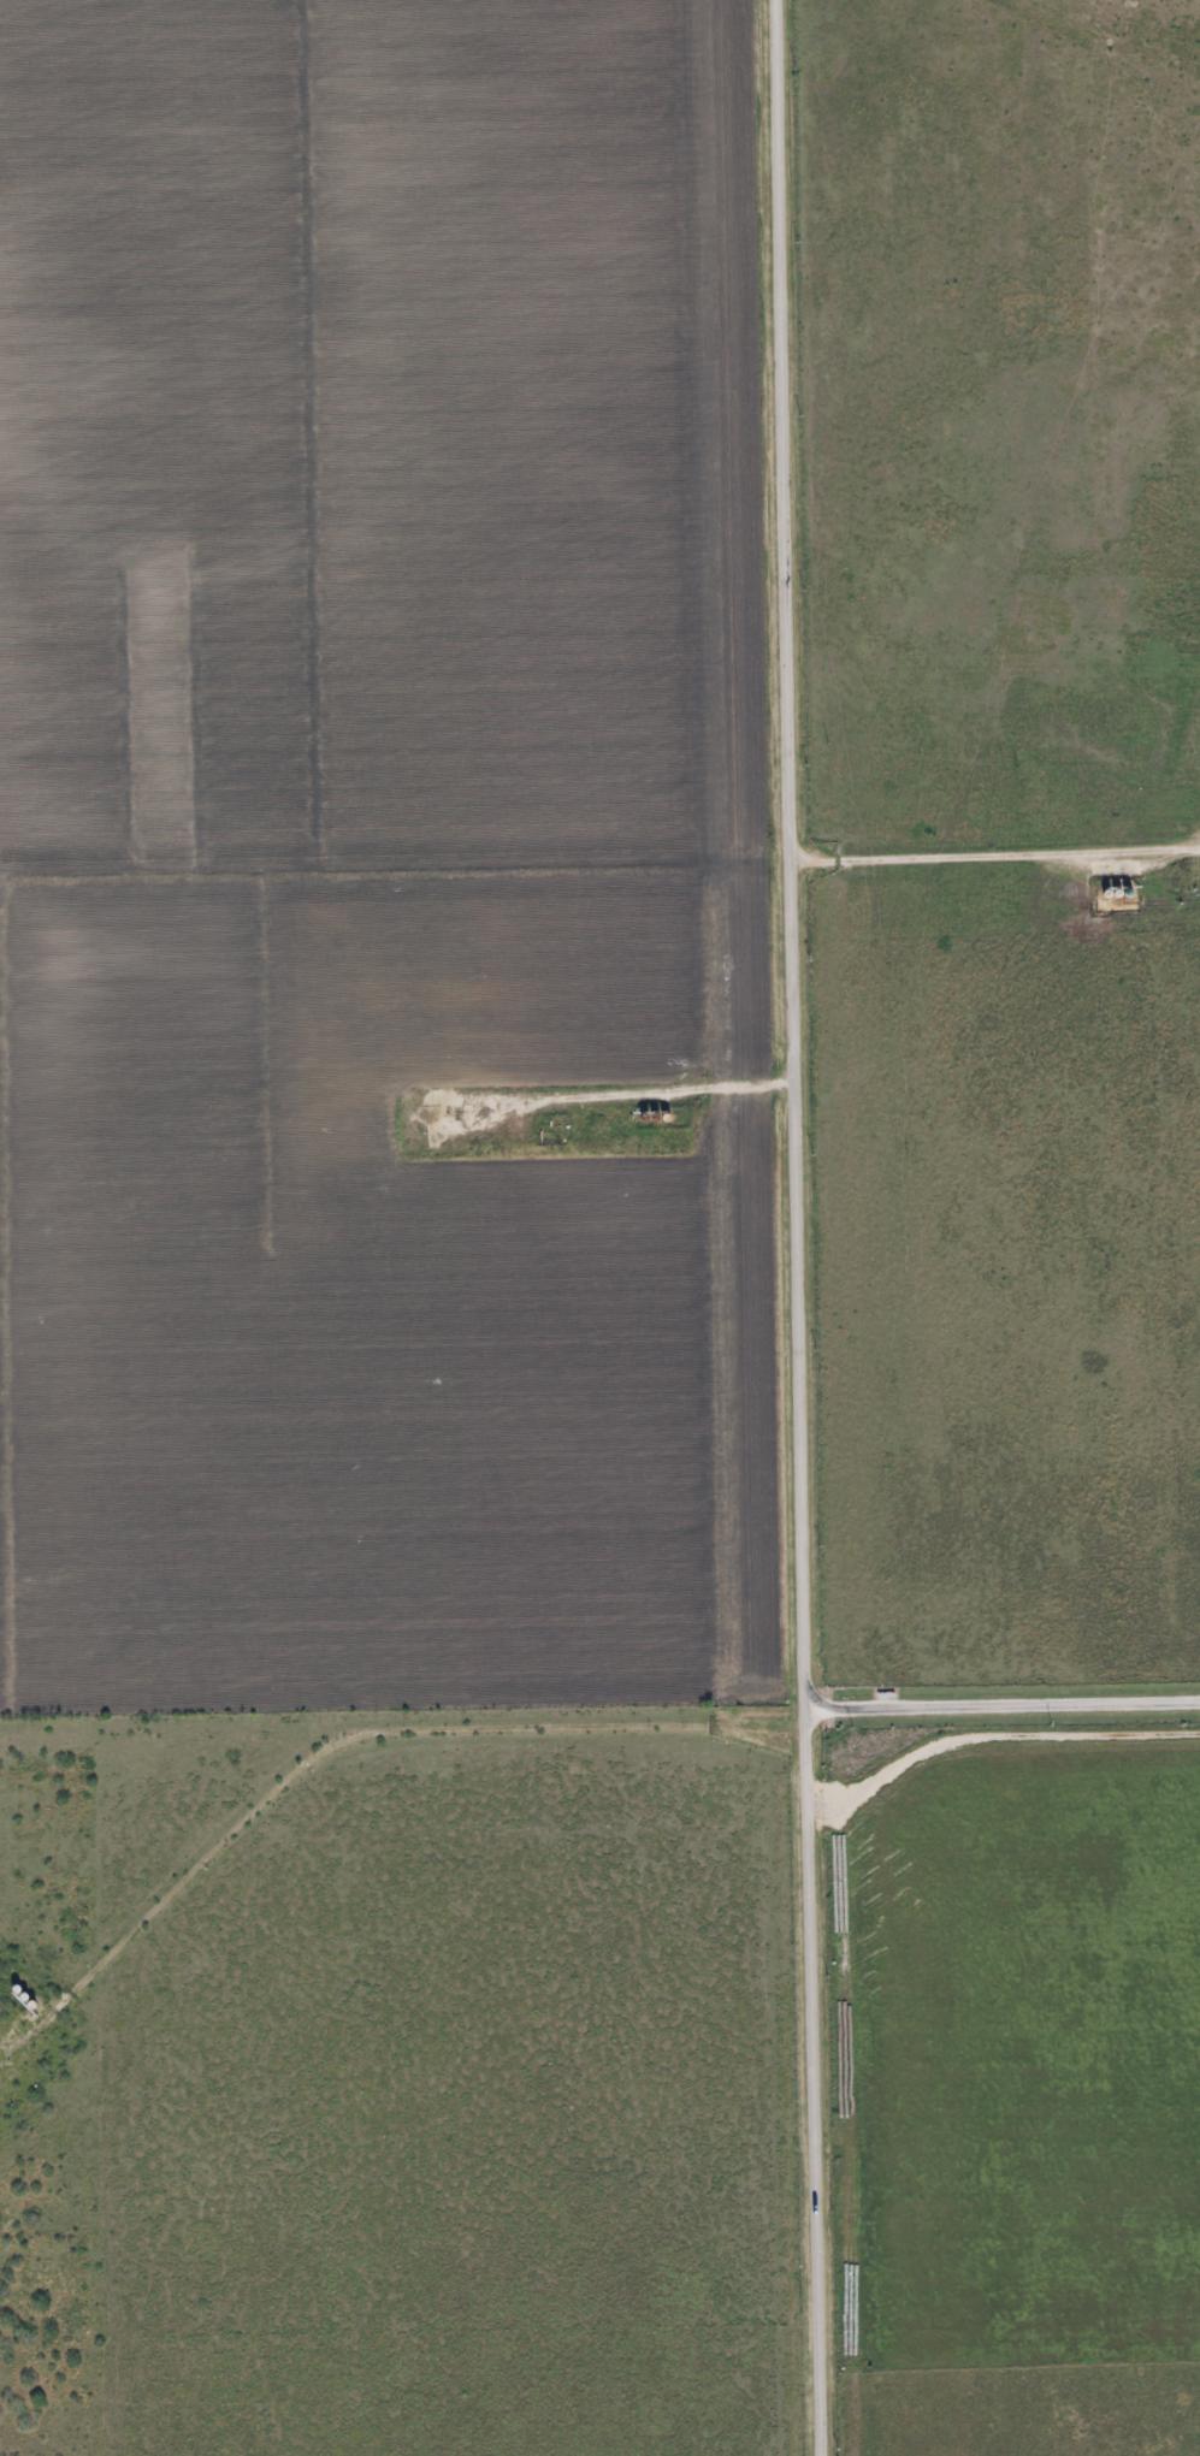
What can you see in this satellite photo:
road: (802, 1227)

